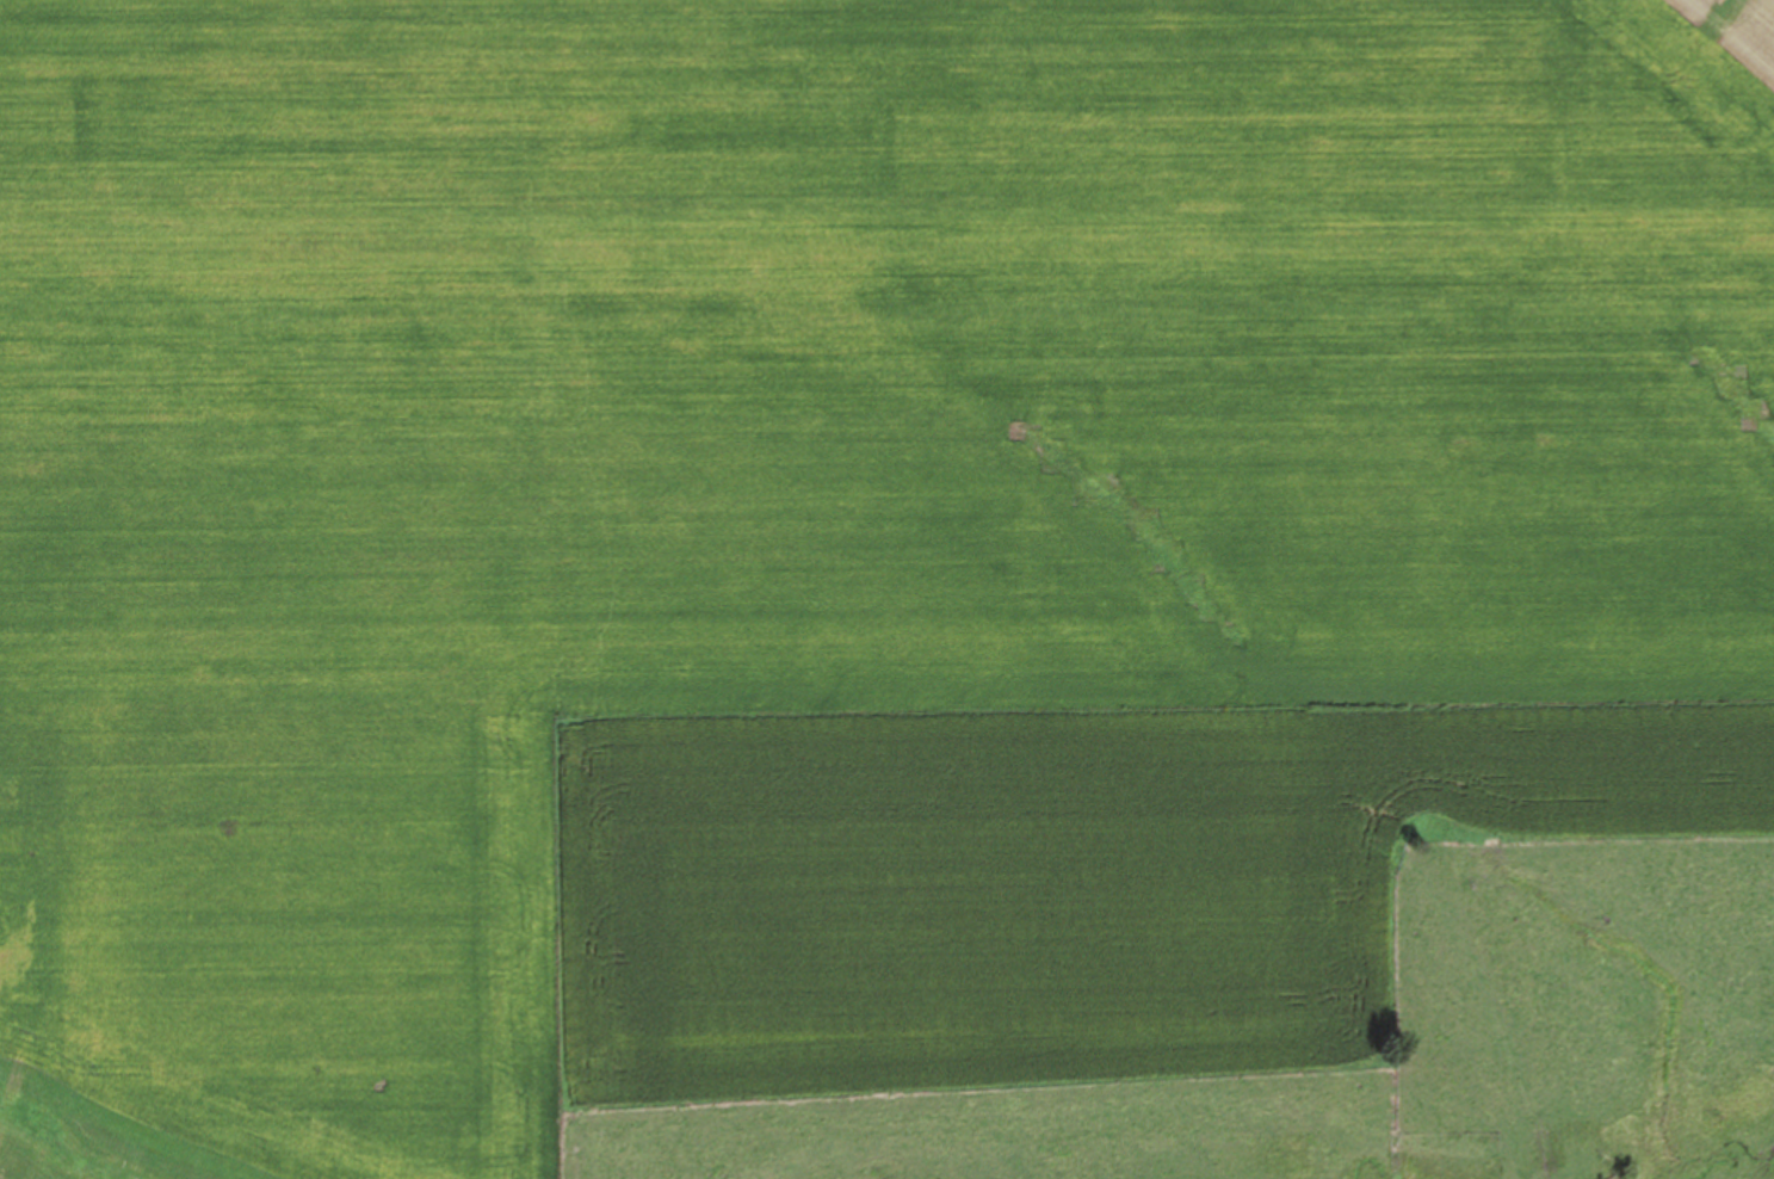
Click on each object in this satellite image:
building: (10, 840)

